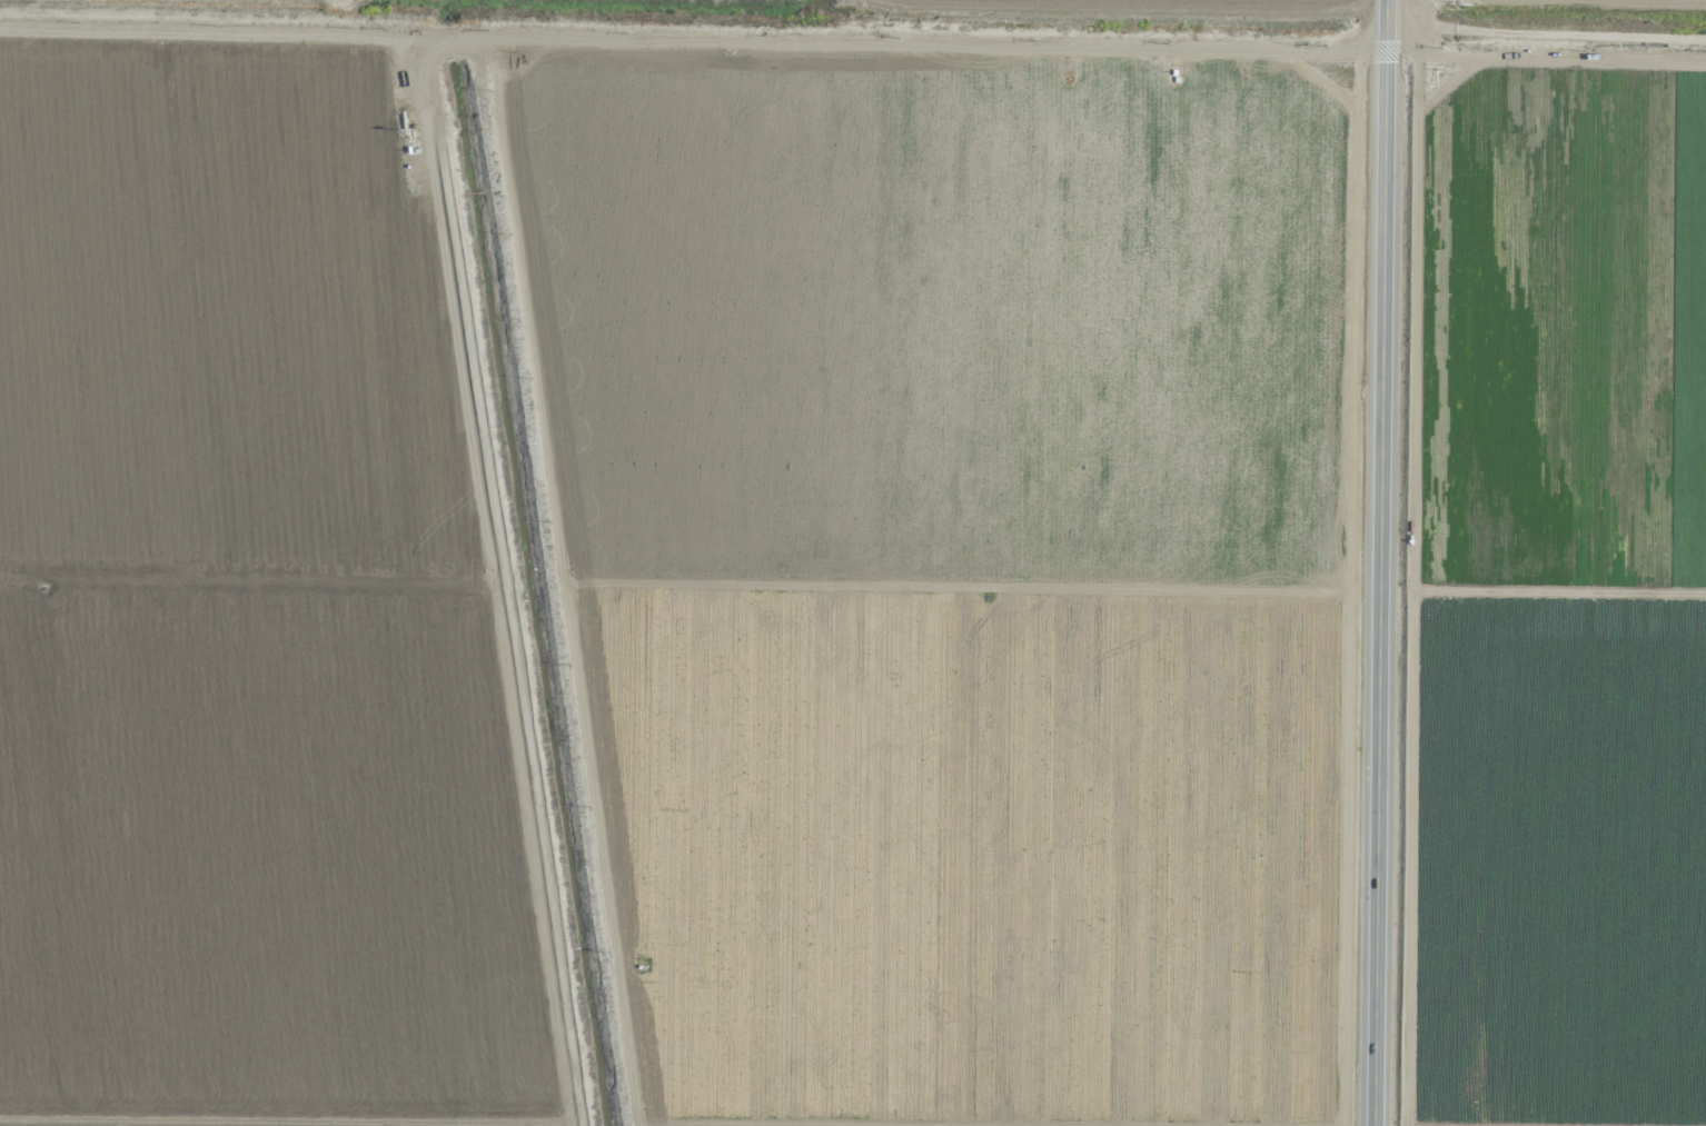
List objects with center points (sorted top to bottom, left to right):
road: (853, 40)
road: (528, 454)
crop: (683, 561)
road: (1379, 562)
crop: (1557, 566)

